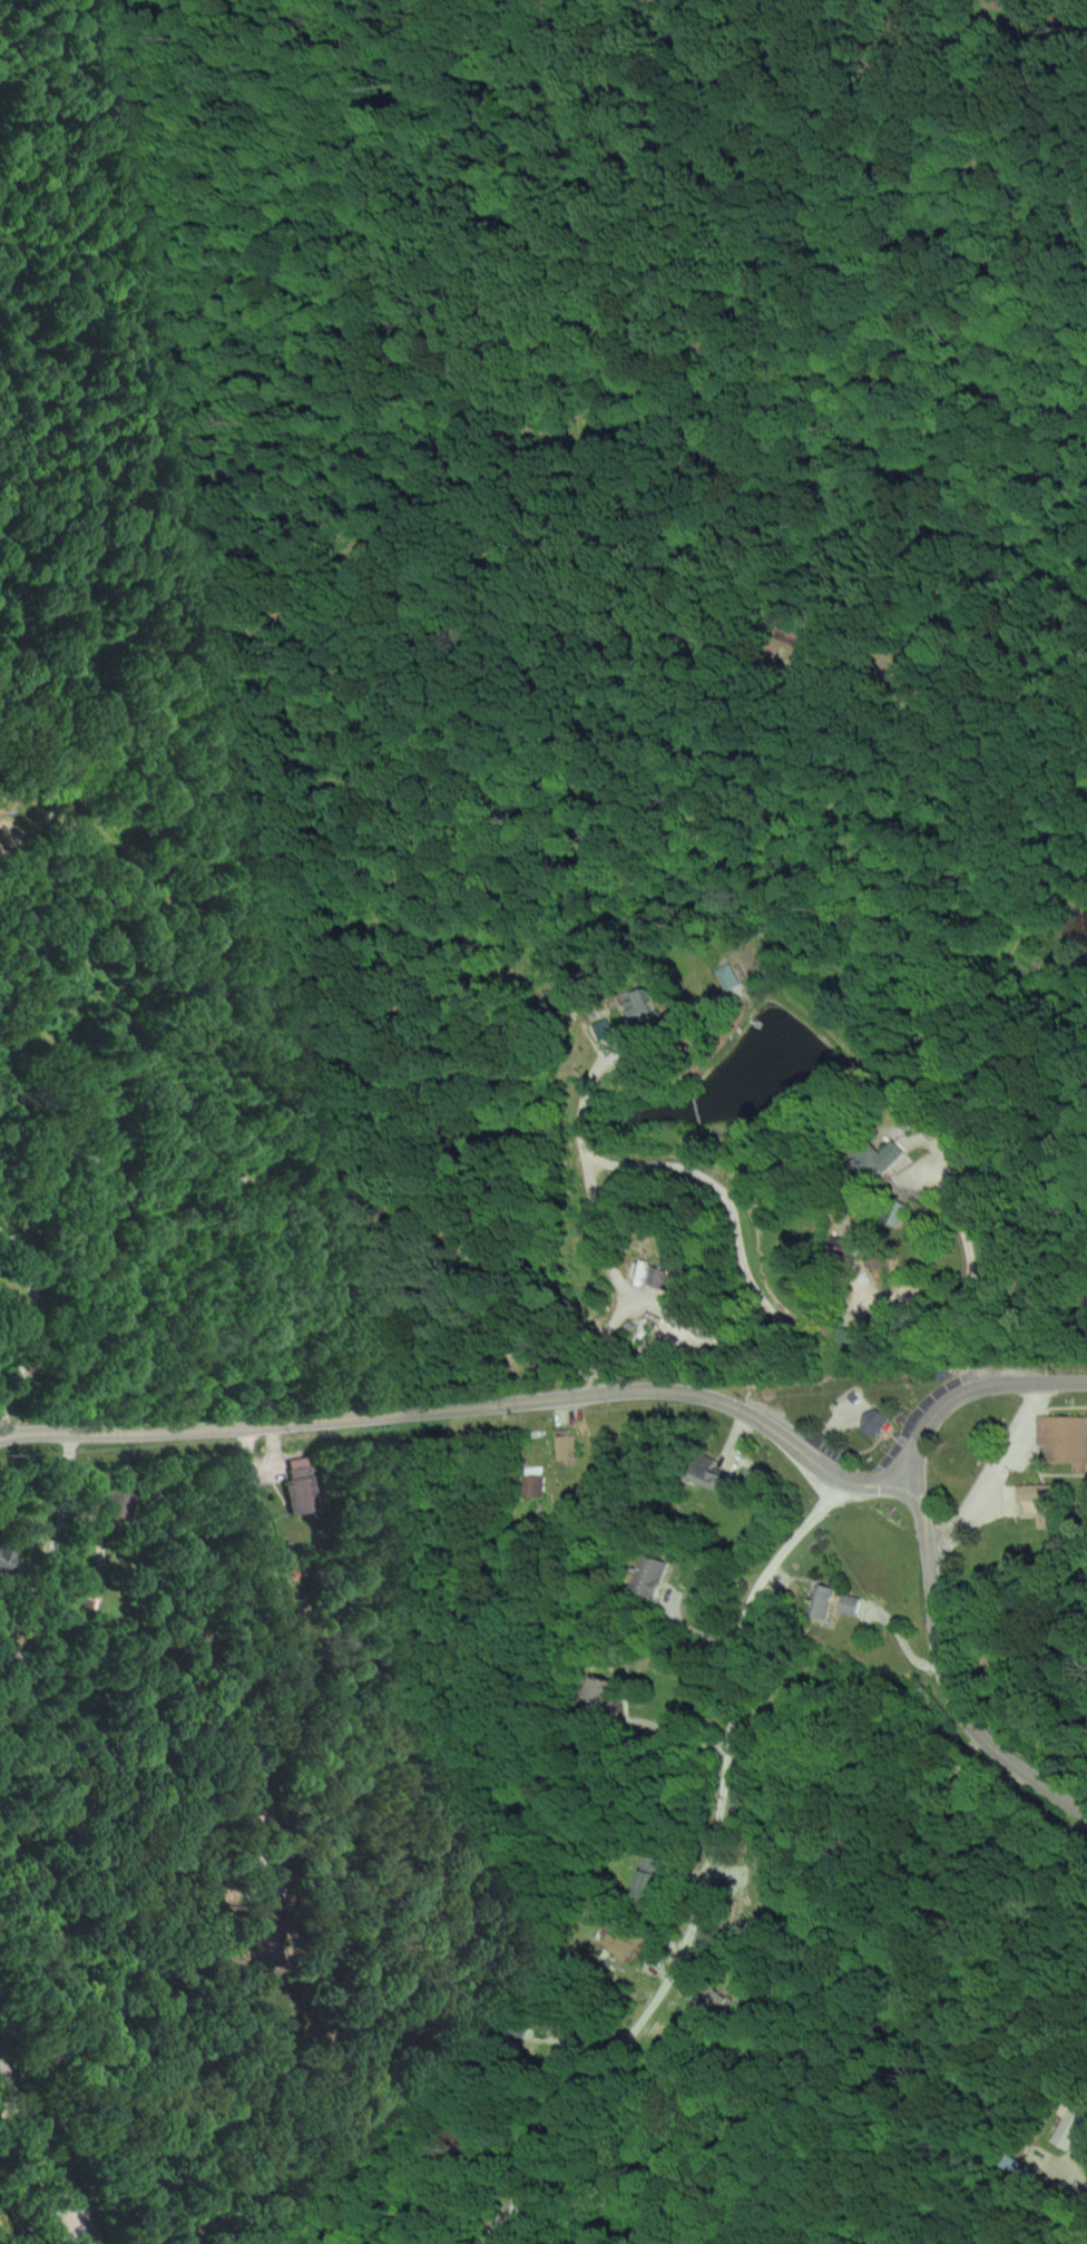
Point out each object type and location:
building: (731, 976)
building: (652, 1008)
road: (917, 1121)
building: (893, 1155)
road: (742, 1261)
building: (668, 1278)
road: (37, 1328)
road: (950, 1401)
road: (435, 1412)
building: (875, 1422)
building: (1065, 1440)
building: (567, 1447)
road: (991, 1471)
road: (913, 1472)
building: (715, 1479)
road: (823, 1480)
building: (297, 1485)
building: (541, 1487)
building: (1040, 1503)
building: (652, 1577)
building: (850, 1606)
road: (48, 1608)
road: (286, 1638)
road: (939, 1664)
building: (601, 1690)
road: (706, 1873)
building: (629, 1944)
building: (708, 2004)
road: (47, 2156)
road: (1065, 2201)

